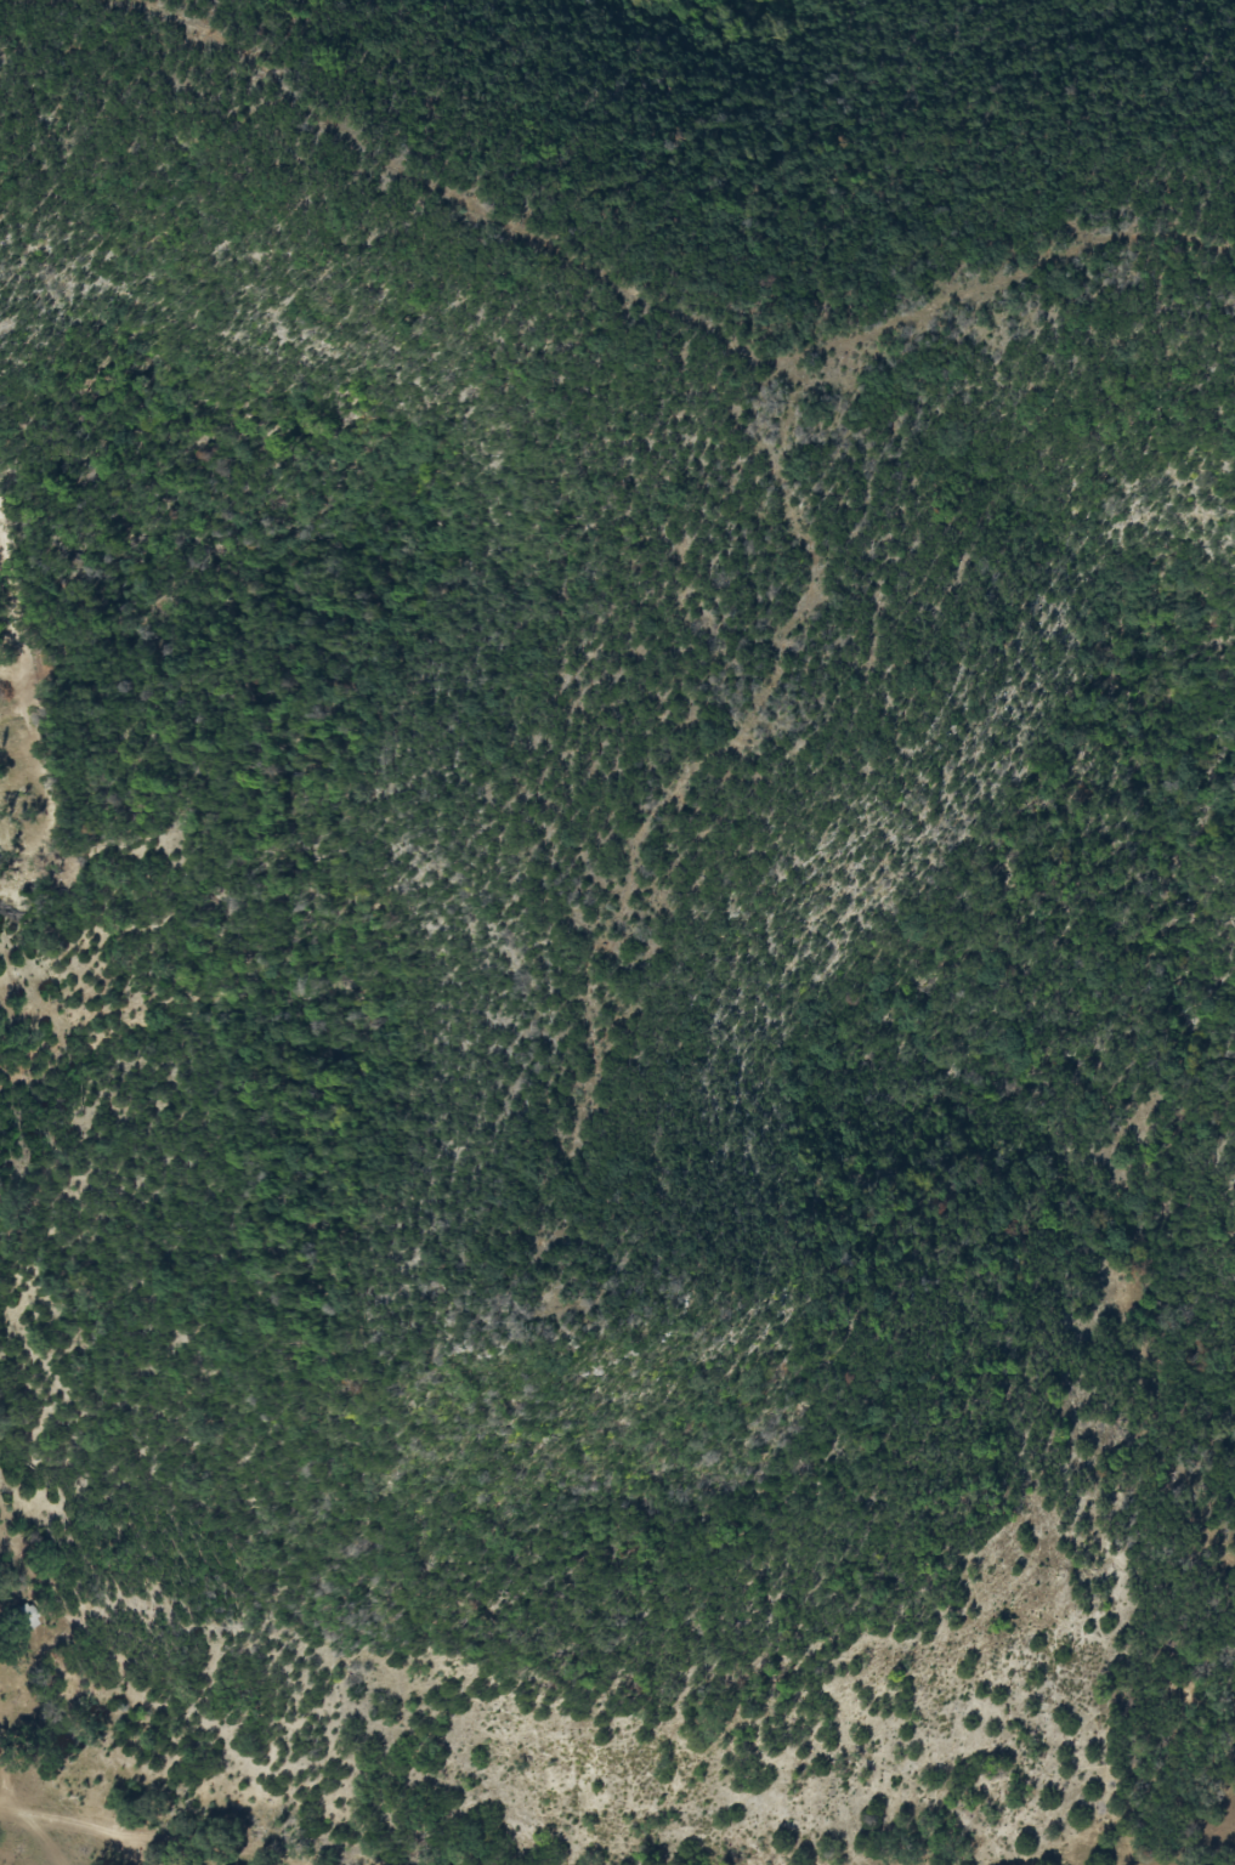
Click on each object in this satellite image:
road: (661, 1455)
building: (27, 1619)
road: (138, 1836)
road: (287, 1863)

